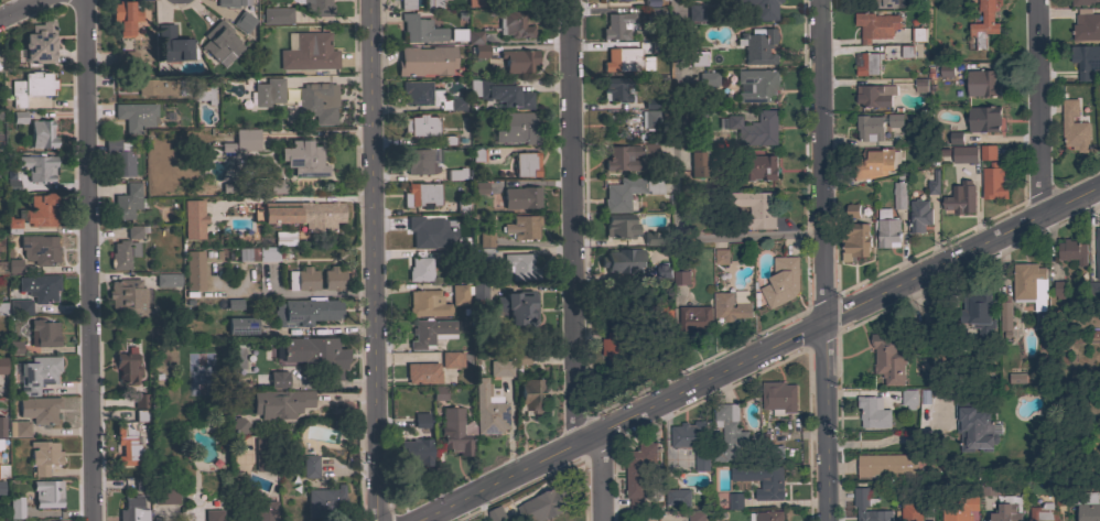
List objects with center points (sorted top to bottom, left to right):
building: (611, 0)
building: (292, 1)
building: (1083, 2)
building: (227, 3)
building: (433, 3)
building: (884, 3)
building: (407, 4)
building: (317, 7)
building: (757, 8)
road: (22, 11)
building: (694, 12)
building: (653, 14)
building: (277, 15)
building: (125, 17)
building: (242, 21)
building: (982, 23)
building: (513, 24)
building: (617, 25)
building: (875, 25)
building: (1087, 26)
building: (420, 30)
building: (917, 34)
building: (464, 35)
building: (40, 43)
building: (219, 43)
building: (757, 46)
building: (172, 47)
building: (481, 51)
building: (309, 52)
building: (618, 58)
building: (694, 58)
building: (425, 61)
building: (519, 61)
building: (1086, 61)
building: (869, 64)
building: (942, 73)
building: (708, 78)
building: (981, 84)
building: (756, 85)
building: (920, 85)
building: (31, 87)
building: (161, 87)
building: (616, 89)
building: (268, 91)
building: (500, 91)
building: (419, 94)
building: (204, 95)
building: (874, 96)
building: (456, 104)
building: (314, 106)
road: (1039, 108)
building: (136, 116)
building: (19, 117)
building: (650, 119)
building: (983, 119)
building: (699, 120)
building: (895, 120)
building: (421, 124)
building: (1074, 127)
building: (518, 128)
building: (754, 128)
building: (869, 128)
building: (41, 133)
building: (246, 139)
building: (948, 140)
building: (649, 150)
building: (986, 152)
building: (477, 154)
building: (963, 154)
building: (623, 158)
building: (119, 159)
building: (303, 159)
building: (419, 162)
building: (698, 163)
building: (875, 163)
building: (526, 164)
building: (37, 166)
building: (757, 167)
building: (455, 174)
building: (932, 182)
building: (994, 182)
road: (675, 183)
building: (10, 185)
building: (276, 186)
building: (628, 192)
building: (421, 195)
building: (899, 196)
building: (521, 197)
building: (961, 199)
building: (127, 202)
building: (756, 209)
building: (41, 210)
building: (852, 210)
building: (303, 214)
building: (919, 216)
building: (193, 218)
building: (11, 225)
road: (569, 225)
building: (619, 226)
building: (522, 227)
building: (887, 229)
building: (133, 231)
building: (420, 231)
building: (283, 238)
building: (485, 239)
building: (647, 240)
building: (854, 240)
building: (40, 249)
building: (1071, 251)
building: (122, 253)
building: (268, 253)
building: (1098, 253)
building: (482, 254)
building: (721, 256)
road: (88, 260)
road: (373, 260)
road: (821, 260)
building: (623, 261)
building: (14, 265)
building: (2, 267)
building: (519, 267)
building: (420, 269)
building: (193, 270)
building: (664, 273)
building: (680, 278)
building: (302, 279)
building: (333, 279)
building: (168, 280)
building: (781, 281)
building: (1029, 285)
building: (39, 286)
building: (1059, 289)
building: (478, 291)
building: (459, 294)
building: (128, 299)
building: (737, 299)
building: (427, 303)
building: (19, 306)
building: (516, 306)
building: (730, 306)
building: (2, 307)
building: (305, 312)
building: (978, 313)
building: (1005, 314)
building: (693, 318)
building: (241, 325)
building: (44, 332)
building: (924, 332)
building: (430, 333)
building: (15, 347)
building: (616, 347)
road: (761, 354)
building: (315, 357)
building: (451, 359)
building: (888, 359)
building: (2, 365)
building: (127, 366)
building: (500, 368)
building: (422, 372)
building: (37, 373)
building: (1016, 378)
building: (278, 379)
building: (439, 392)
building: (531, 395)
building: (778, 398)
building: (908, 399)
building: (140, 400)
building: (280, 403)
building: (39, 409)
building: (488, 409)
building: (872, 412)
building: (420, 420)
building: (238, 424)
building: (2, 426)
building: (18, 428)
building: (973, 428)
building: (455, 431)
building: (727, 433)
road: (885, 439)
building: (692, 442)
building: (126, 443)
building: (416, 451)
building: (261, 454)
building: (776, 454)
building: (43, 456)
building: (310, 465)
building: (885, 465)
building: (3, 470)
building: (637, 474)
road: (606, 477)
building: (762, 480)
building: (1, 487)
building: (988, 488)
building: (165, 491)
building: (46, 493)
building: (677, 497)
building: (860, 497)
building: (325, 501)
building: (735, 501)
building: (1086, 504)
building: (544, 506)
building: (15, 507)
building: (958, 508)
building: (132, 510)
building: (265, 510)
building: (910, 512)
building: (1005, 513)
building: (1043, 513)
building: (213, 514)
building: (497, 514)
building: (766, 515)
building: (695, 517)

